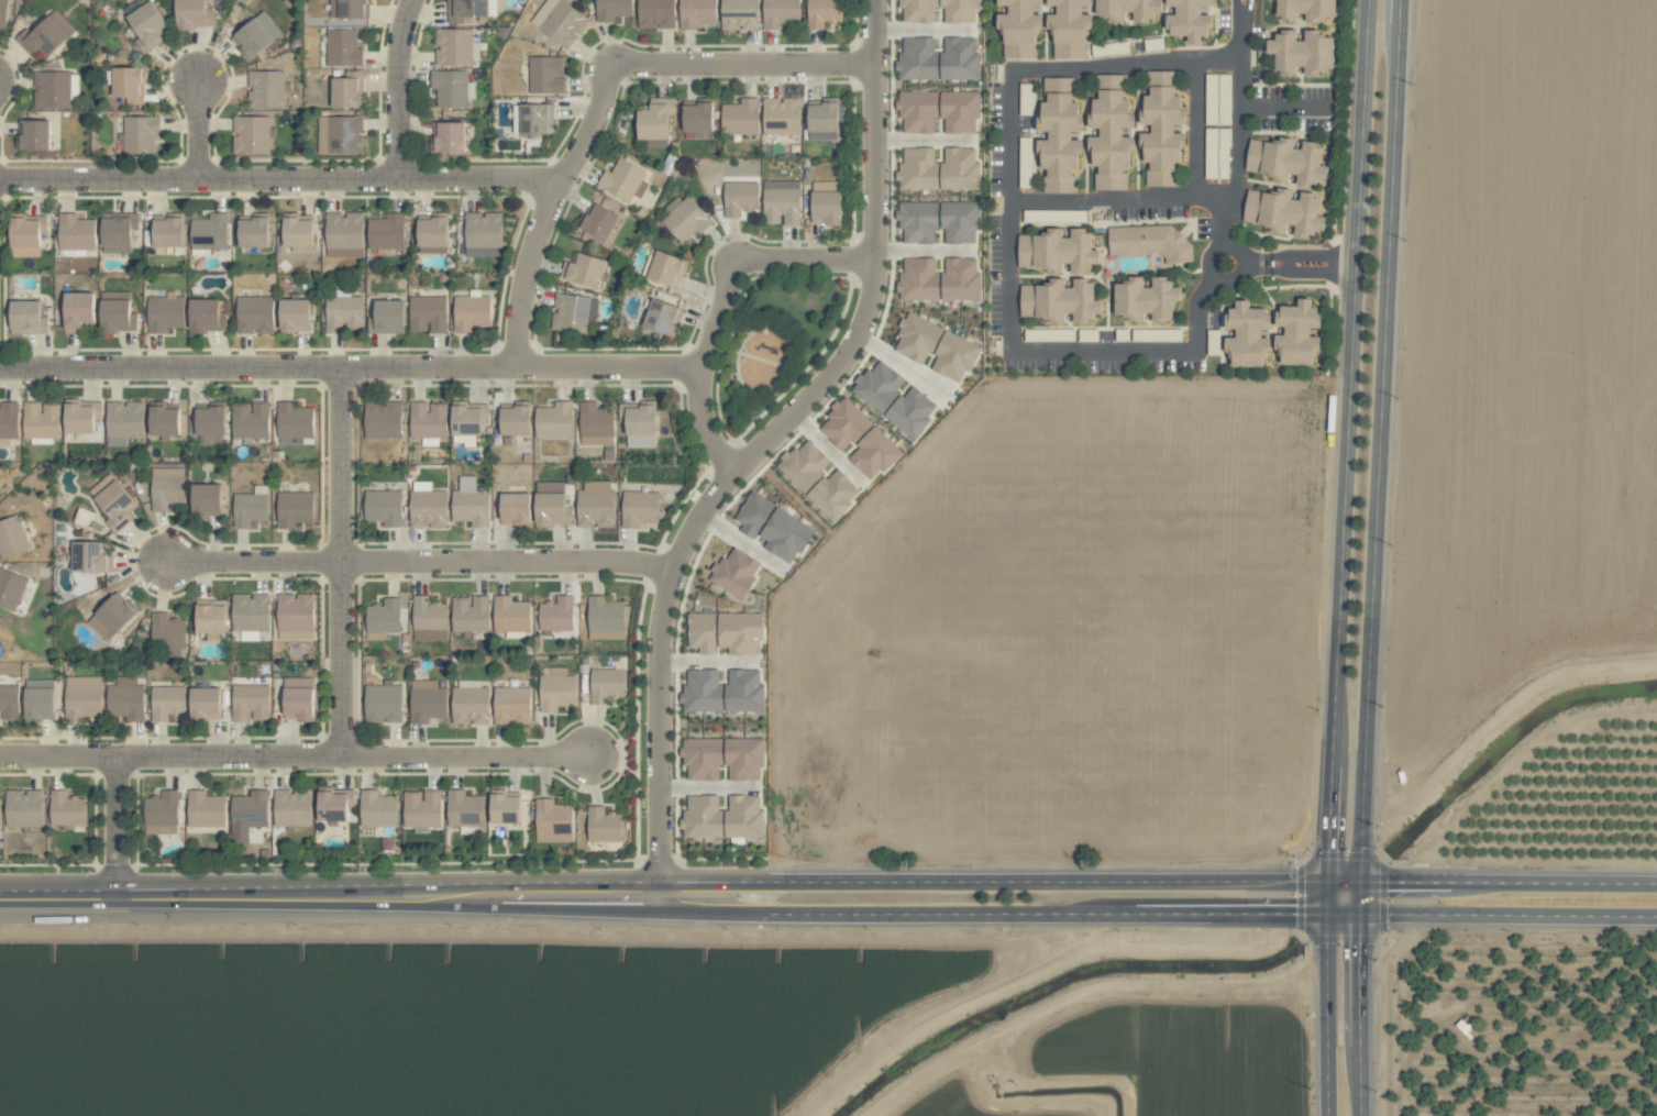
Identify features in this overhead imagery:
building: (350, 9)
building: (612, 9)
building: (1130, 9)
building: (466, 10)
building: (1306, 10)
building: (3, 13)
building: (655, 13)
building: (697, 13)
building: (780, 13)
building: (822, 13)
building: (194, 14)
building: (739, 14)
building: (960, 15)
building: (1190, 20)
building: (563, 24)
building: (146, 25)
building: (1019, 27)
road: (1234, 27)
road: (1245, 27)
building: (1070, 29)
building: (45, 34)
building: (255, 35)
building: (453, 47)
building: (343, 48)
building: (1302, 52)
building: (939, 59)
road: (743, 64)
building: (545, 75)
building: (126, 82)
road: (399, 87)
building: (451, 88)
building: (52, 89)
building: (266, 89)
building: (346, 91)
road: (1283, 106)
building: (939, 111)
building: (782, 115)
building: (740, 118)
building: (531, 119)
building: (655, 119)
building: (697, 119)
building: (824, 121)
building: (1163, 129)
road: (199, 130)
building: (1112, 133)
building: (140, 134)
building: (33, 135)
building: (252, 135)
building: (340, 135)
building: (1060, 135)
building: (448, 136)
road: (1012, 159)
building: (1288, 161)
building: (939, 169)
road: (278, 178)
building: (623, 180)
road: (1216, 195)
road: (1172, 197)
building: (740, 198)
building: (782, 202)
building: (826, 205)
road: (544, 210)
building: (1285, 211)
building: (686, 219)
road: (1222, 219)
building: (598, 221)
building: (939, 222)
building: (484, 230)
building: (76, 232)
building: (118, 232)
building: (168, 232)
building: (209, 232)
building: (254, 232)
building: (298, 232)
building: (386, 232)
building: (433, 232)
building: (343, 234)
building: (25, 236)
building: (1152, 242)
building: (1059, 252)
road: (1300, 255)
road: (806, 261)
road: (1285, 262)
building: (665, 268)
road: (1300, 268)
building: (584, 270)
road: (1212, 273)
building: (940, 279)
building: (1147, 300)
building: (1060, 301)
building: (77, 311)
building: (117, 312)
building: (165, 312)
building: (343, 312)
building: (428, 313)
building: (472, 313)
building: (573, 313)
building: (254, 314)
building: (208, 316)
building: (295, 316)
building: (389, 317)
building: (662, 317)
building: (27, 318)
building: (1299, 333)
building: (1248, 335)
park: (774, 341)
building: (936, 347)
road: (351, 367)
road: (702, 369)
road: (1350, 383)
building: (877, 386)
building: (912, 412)
building: (79, 419)
building: (9, 420)
building: (124, 420)
building: (250, 420)
building: (383, 420)
building: (41, 421)
building: (295, 421)
building: (428, 421)
building: (468, 421)
building: (516, 421)
building: (554, 421)
building: (164, 422)
building: (211, 424)
building: (596, 424)
building: (639, 426)
building: (860, 439)
road: (1379, 440)
road: (765, 444)
building: (818, 479)
building: (167, 488)
building: (206, 499)
building: (113, 502)
building: (471, 504)
building: (596, 505)
building: (551, 506)
building: (250, 507)
building: (384, 507)
building: (428, 508)
building: (295, 509)
building: (516, 509)
building: (640, 509)
building: (753, 513)
building: (785, 535)
building: (11, 538)
building: (88, 557)
road: (255, 562)
road: (342, 562)
road: (509, 563)
building: (736, 572)
building: (10, 589)
building: (250, 612)
building: (115, 614)
building: (557, 614)
building: (471, 615)
building: (511, 615)
building: (296, 617)
building: (385, 617)
building: (429, 619)
building: (606, 619)
building: (210, 621)
building: (702, 632)
building: (740, 633)
building: (167, 634)
road: (706, 661)
building: (606, 685)
building: (556, 689)
building: (723, 692)
building: (82, 697)
building: (298, 698)
building: (40, 699)
building: (125, 699)
building: (427, 701)
building: (9, 703)
building: (167, 703)
building: (205, 703)
building: (250, 703)
building: (384, 703)
building: (470, 706)
building: (512, 706)
crop: (1089, 708)
road: (467, 755)
road: (172, 758)
building: (703, 759)
building: (743, 760)
building: (335, 805)
building: (24, 808)
building: (292, 808)
building: (66, 809)
building: (205, 809)
building: (378, 809)
building: (421, 809)
building: (465, 809)
building: (506, 810)
building: (162, 814)
building: (248, 815)
building: (723, 817)
building: (553, 822)
building: (604, 826)
road: (117, 828)
road: (1326, 839)
traffic signals: (1326, 848)
road: (1016, 882)
road: (1341, 882)
traffic signals: (1390, 882)
road: (1403, 882)
road: (1553, 882)
road: (682, 890)
road: (329, 897)
road: (1358, 897)
road: (683, 905)
road: (738, 914)
road: (951, 914)
road: (1246, 914)
traffic signals: (1291, 914)
road: (1507, 914)
traffic signals: (1358, 947)
road: (1358, 980)
road: (1325, 1015)
road: (1358, 1081)

